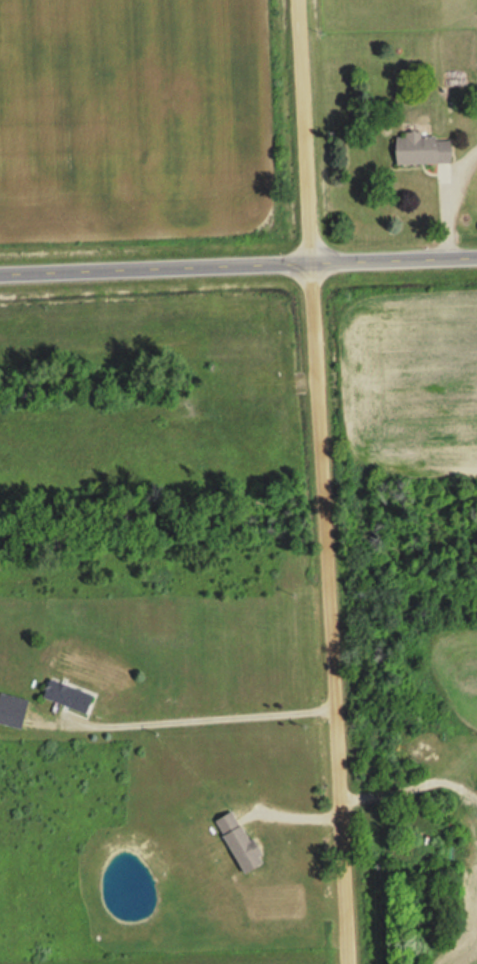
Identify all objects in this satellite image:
building: (428, 149)
road: (238, 257)
road: (316, 482)
building: (72, 695)
building: (233, 842)

